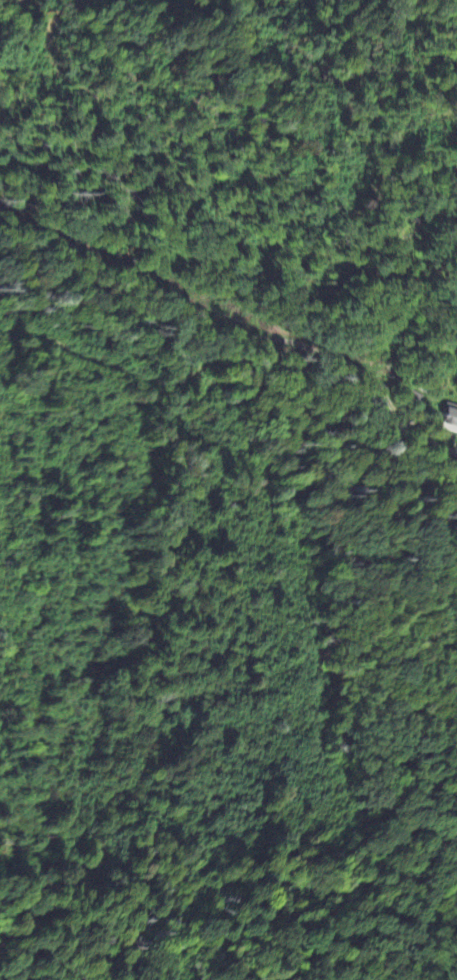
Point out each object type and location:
building: (450, 419)

